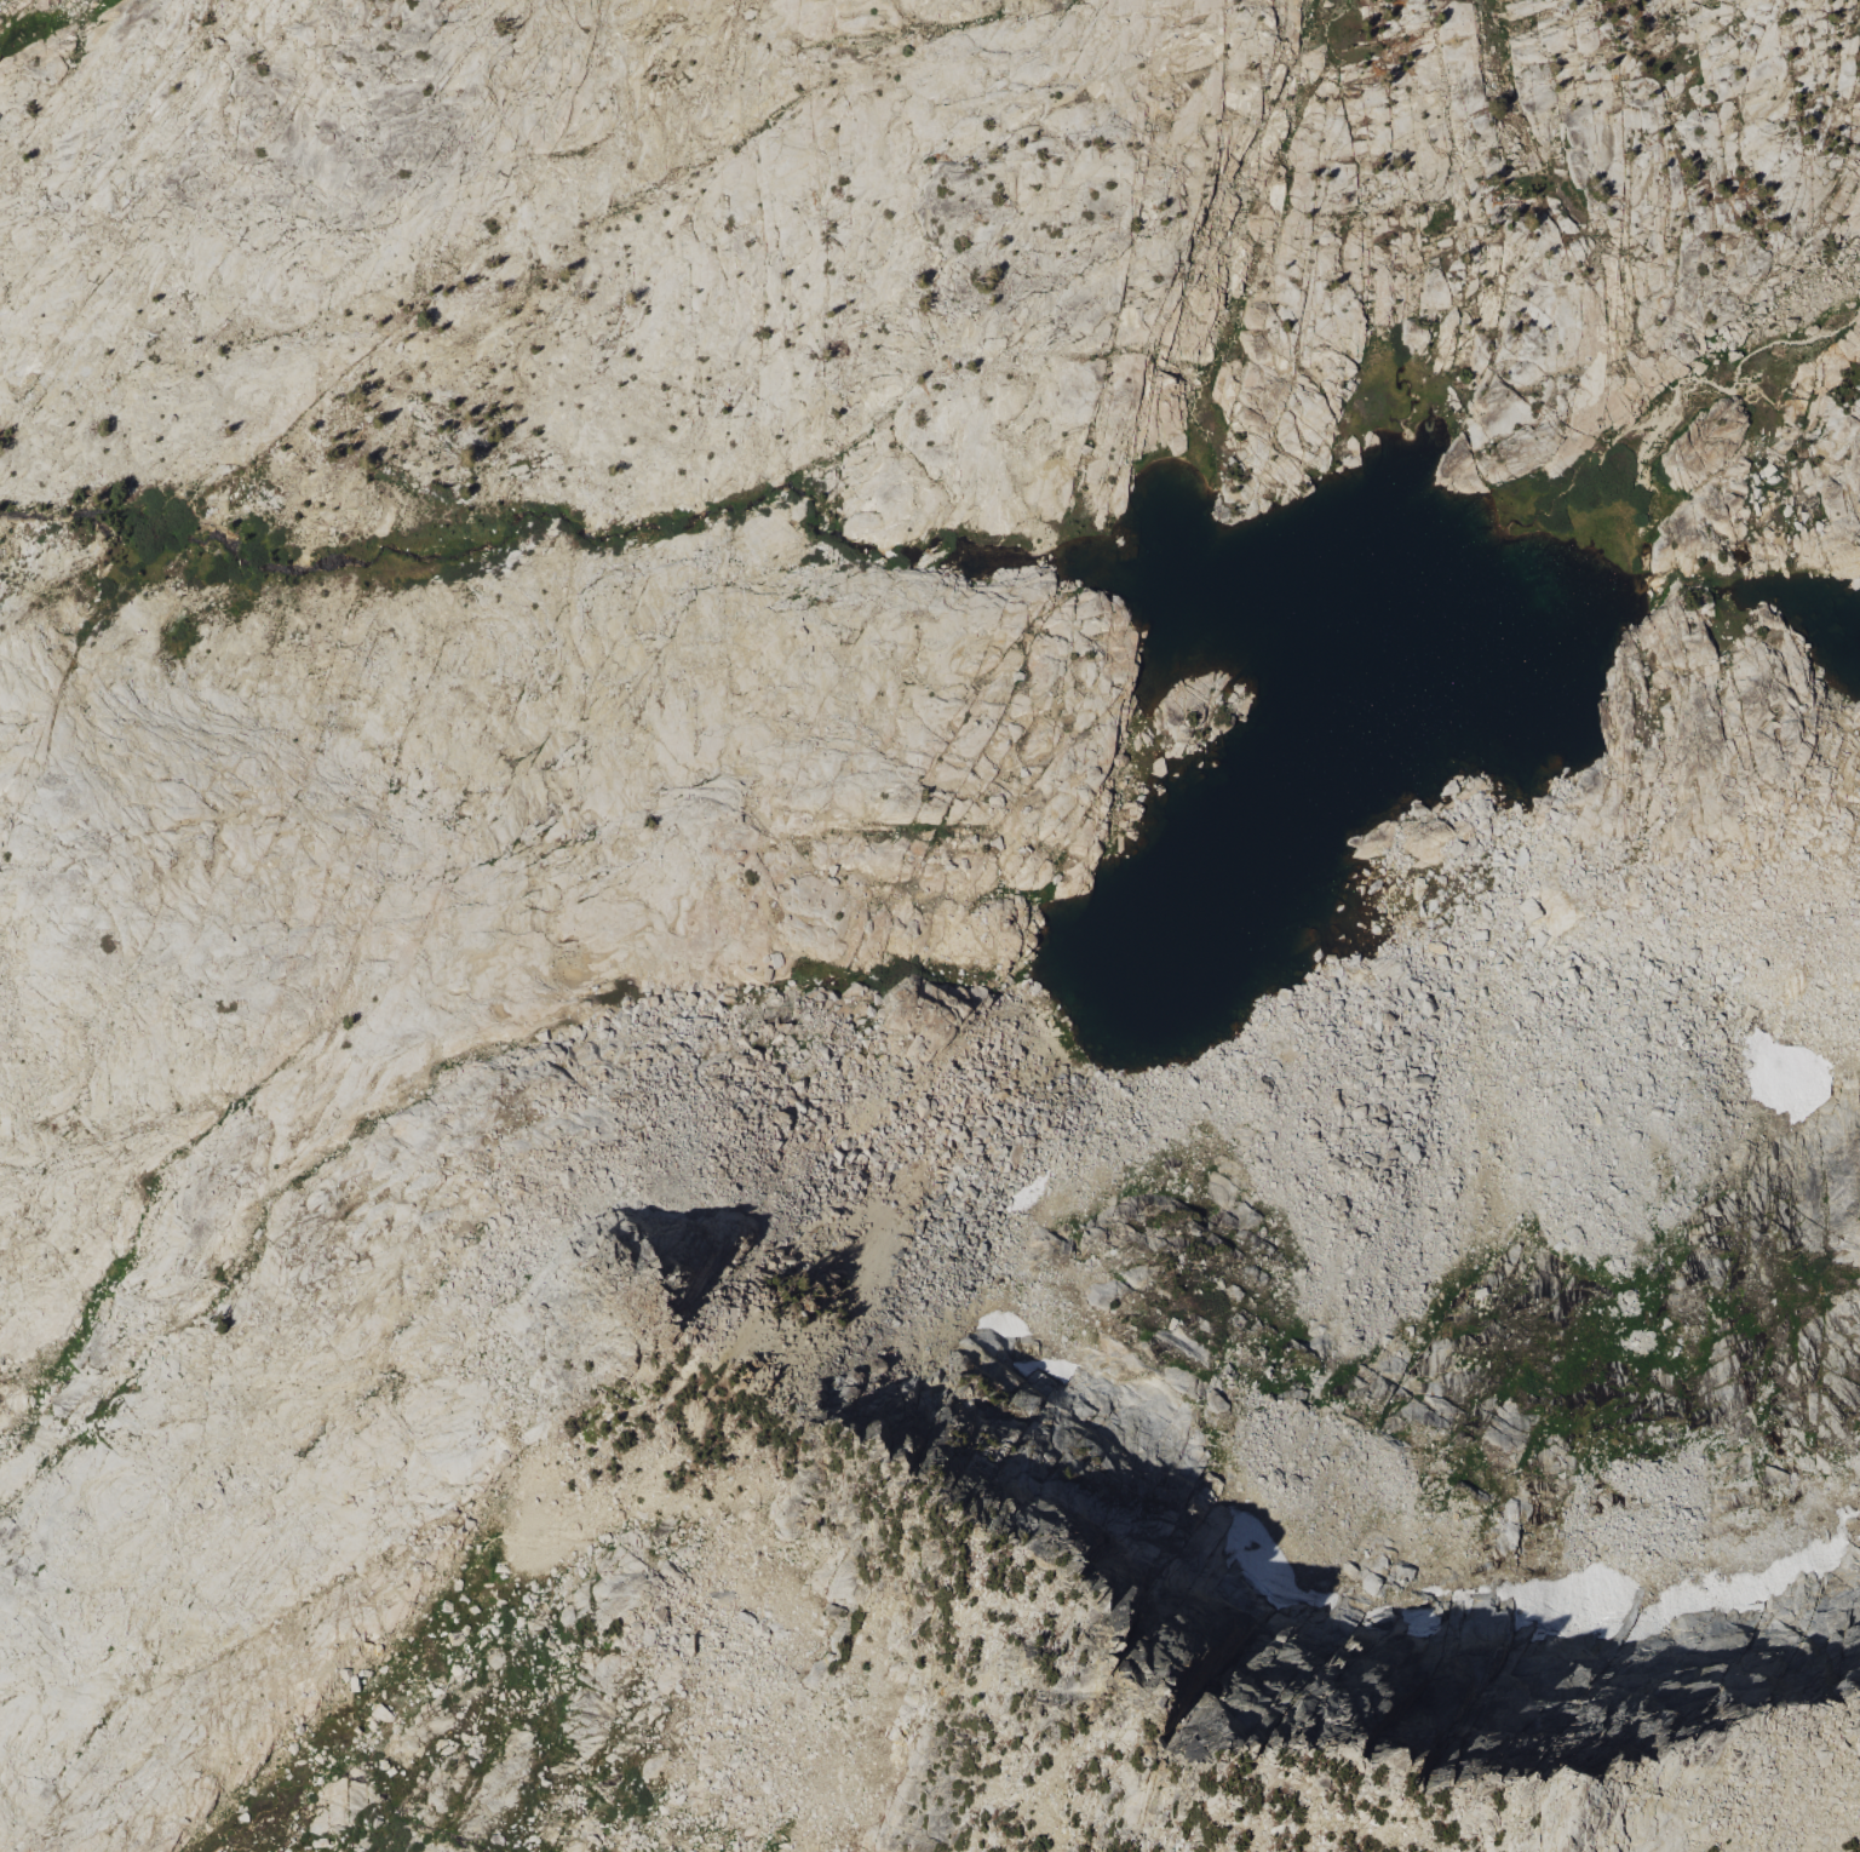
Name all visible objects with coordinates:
road: (1769, 1789)

